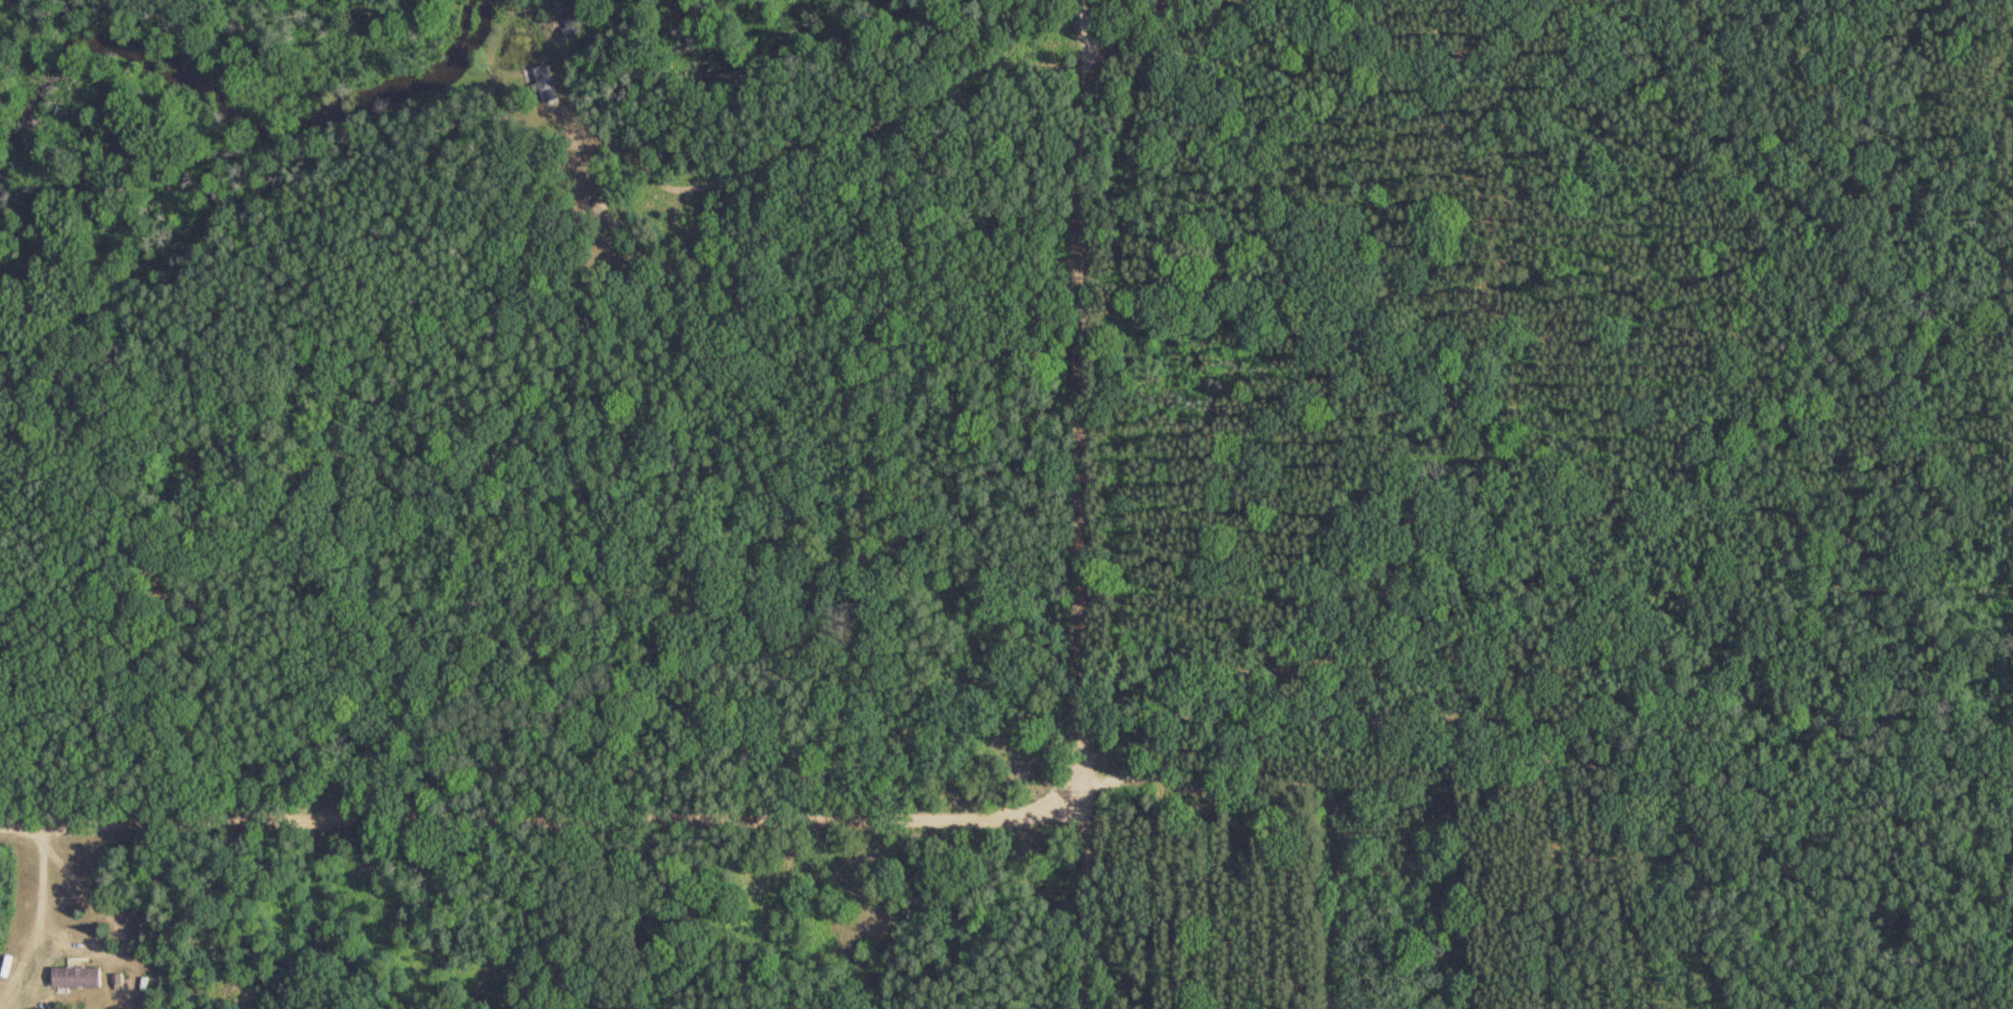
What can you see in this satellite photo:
road: (1125, 27)
road: (1070, 504)
road: (541, 819)
building: (72, 977)

